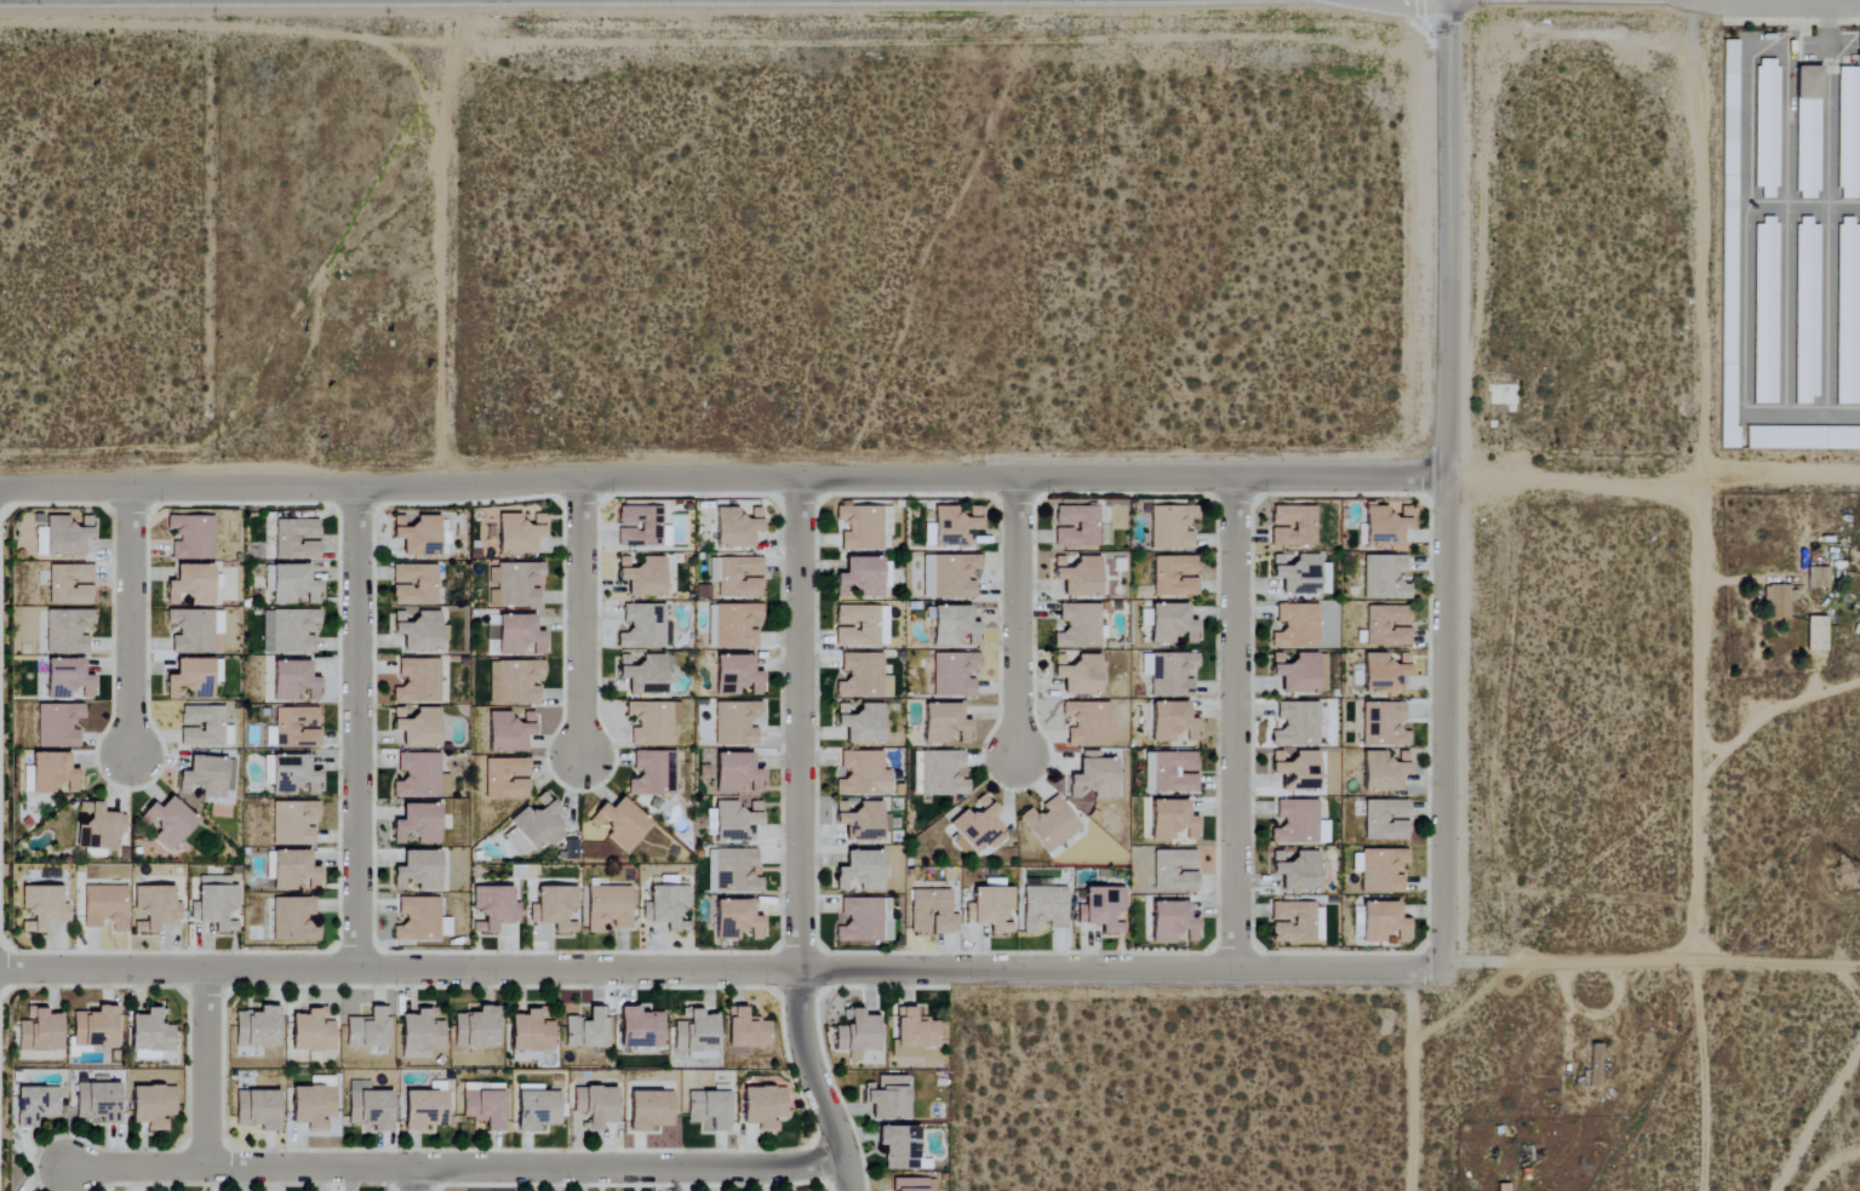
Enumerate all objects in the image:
building: (1767, 127)
road: (1786, 132)
building: (1808, 133)
building: (1848, 133)
road: (1827, 225)
road: (1744, 291)
building: (1807, 311)
building: (1765, 313)
building: (1848, 313)
road: (723, 483)
road: (1654, 483)
building: (954, 526)
building: (639, 527)
building: (1076, 527)
building: (1172, 527)
building: (1293, 527)
building: (1385, 527)
building: (736, 528)
building: (859, 528)
building: (517, 534)
building: (64, 537)
building: (420, 537)
building: (190, 538)
building: (296, 540)
building: (1295, 574)
building: (737, 577)
building: (949, 577)
building: (1078, 577)
building: (1174, 577)
building: (642, 578)
building: (1384, 578)
road: (1734, 578)
building: (864, 579)
building: (1818, 579)
building: (290, 584)
building: (70, 585)
building: (413, 585)
building: (515, 586)
road: (1446, 596)
building: (1776, 602)
road: (1014, 619)
road: (579, 622)
road: (128, 623)
building: (1171, 625)
building: (733, 626)
building: (860, 626)
building: (1387, 626)
building: (642, 628)
building: (952, 628)
building: (1077, 628)
building: (1297, 628)
building: (67, 631)
building: (417, 631)
building: (195, 632)
building: (287, 632)
building: (491, 634)
building: (1816, 635)
building: (519, 637)
building: (216, 671)
building: (643, 674)
building: (1077, 674)
building: (955, 675)
building: (1172, 675)
building: (1301, 675)
building: (736, 676)
building: (1383, 676)
building: (862, 677)
building: (65, 680)
building: (189, 681)
building: (293, 682)
building: (417, 682)
building: (514, 683)
road: (1782, 706)
building: (652, 723)
building: (737, 723)
building: (1172, 723)
building: (862, 725)
building: (1087, 725)
road: (1234, 725)
building: (57, 726)
building: (945, 726)
building: (1295, 726)
building: (1385, 726)
road: (355, 727)
building: (204, 728)
building: (417, 728)
building: (293, 729)
building: (508, 732)
road: (1721, 757)
building: (1297, 772)
building: (1384, 772)
building: (1171, 773)
building: (51, 774)
building: (652, 774)
building: (943, 774)
building: (737, 775)
building: (863, 775)
building: (207, 777)
building: (292, 777)
building: (419, 778)
building: (1093, 778)
building: (507, 779)
building: (1386, 820)
building: (736, 821)
building: (862, 821)
building: (1172, 821)
building: (168, 823)
building: (1295, 823)
building: (293, 824)
building: (618, 824)
building: (1051, 825)
building: (417, 826)
building: (97, 828)
building: (534, 828)
building: (978, 828)
building: (1323, 834)
road: (1695, 837)
road: (797, 841)
building: (292, 871)
building: (1175, 871)
building: (1381, 871)
building: (418, 872)
building: (733, 872)
building: (860, 872)
building: (1298, 872)
power tower: (1845, 884)
building: (214, 904)
building: (44, 907)
building: (105, 907)
building: (608, 909)
building: (670, 909)
building: (1045, 909)
building: (154, 910)
building: (493, 910)
building: (554, 910)
building: (990, 910)
building: (1103, 911)
building: (932, 912)
building: (294, 921)
building: (417, 921)
building: (736, 921)
building: (865, 921)
building: (1173, 924)
building: (1384, 924)
road: (929, 968)
building: (256, 1026)
building: (95, 1027)
building: (476, 1027)
building: (640, 1027)
building: (367, 1029)
building: (586, 1029)
building: (532, 1030)
building: (745, 1030)
building: (39, 1031)
building: (311, 1031)
building: (696, 1031)
building: (420, 1033)
building: (857, 1033)
building: (914, 1033)
building: (150, 1035)
building: (522, 1055)
road: (205, 1069)
building: (888, 1096)
building: (97, 1103)
building: (313, 1104)
building: (38, 1105)
building: (150, 1105)
building: (483, 1105)
building: (595, 1105)
building: (368, 1106)
building: (536, 1107)
building: (762, 1107)
building: (256, 1109)
building: (424, 1109)
building: (709, 1109)
building: (649, 1110)
road: (1819, 1123)
building: (899, 1146)
road: (454, 1169)
road: (413, 1180)
building: (912, 1185)

